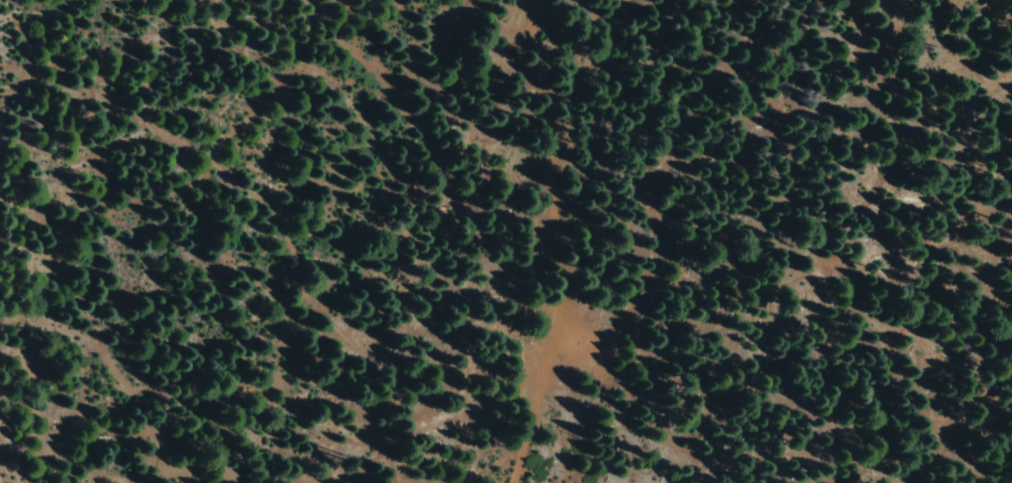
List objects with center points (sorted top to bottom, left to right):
road: (561, 242)

